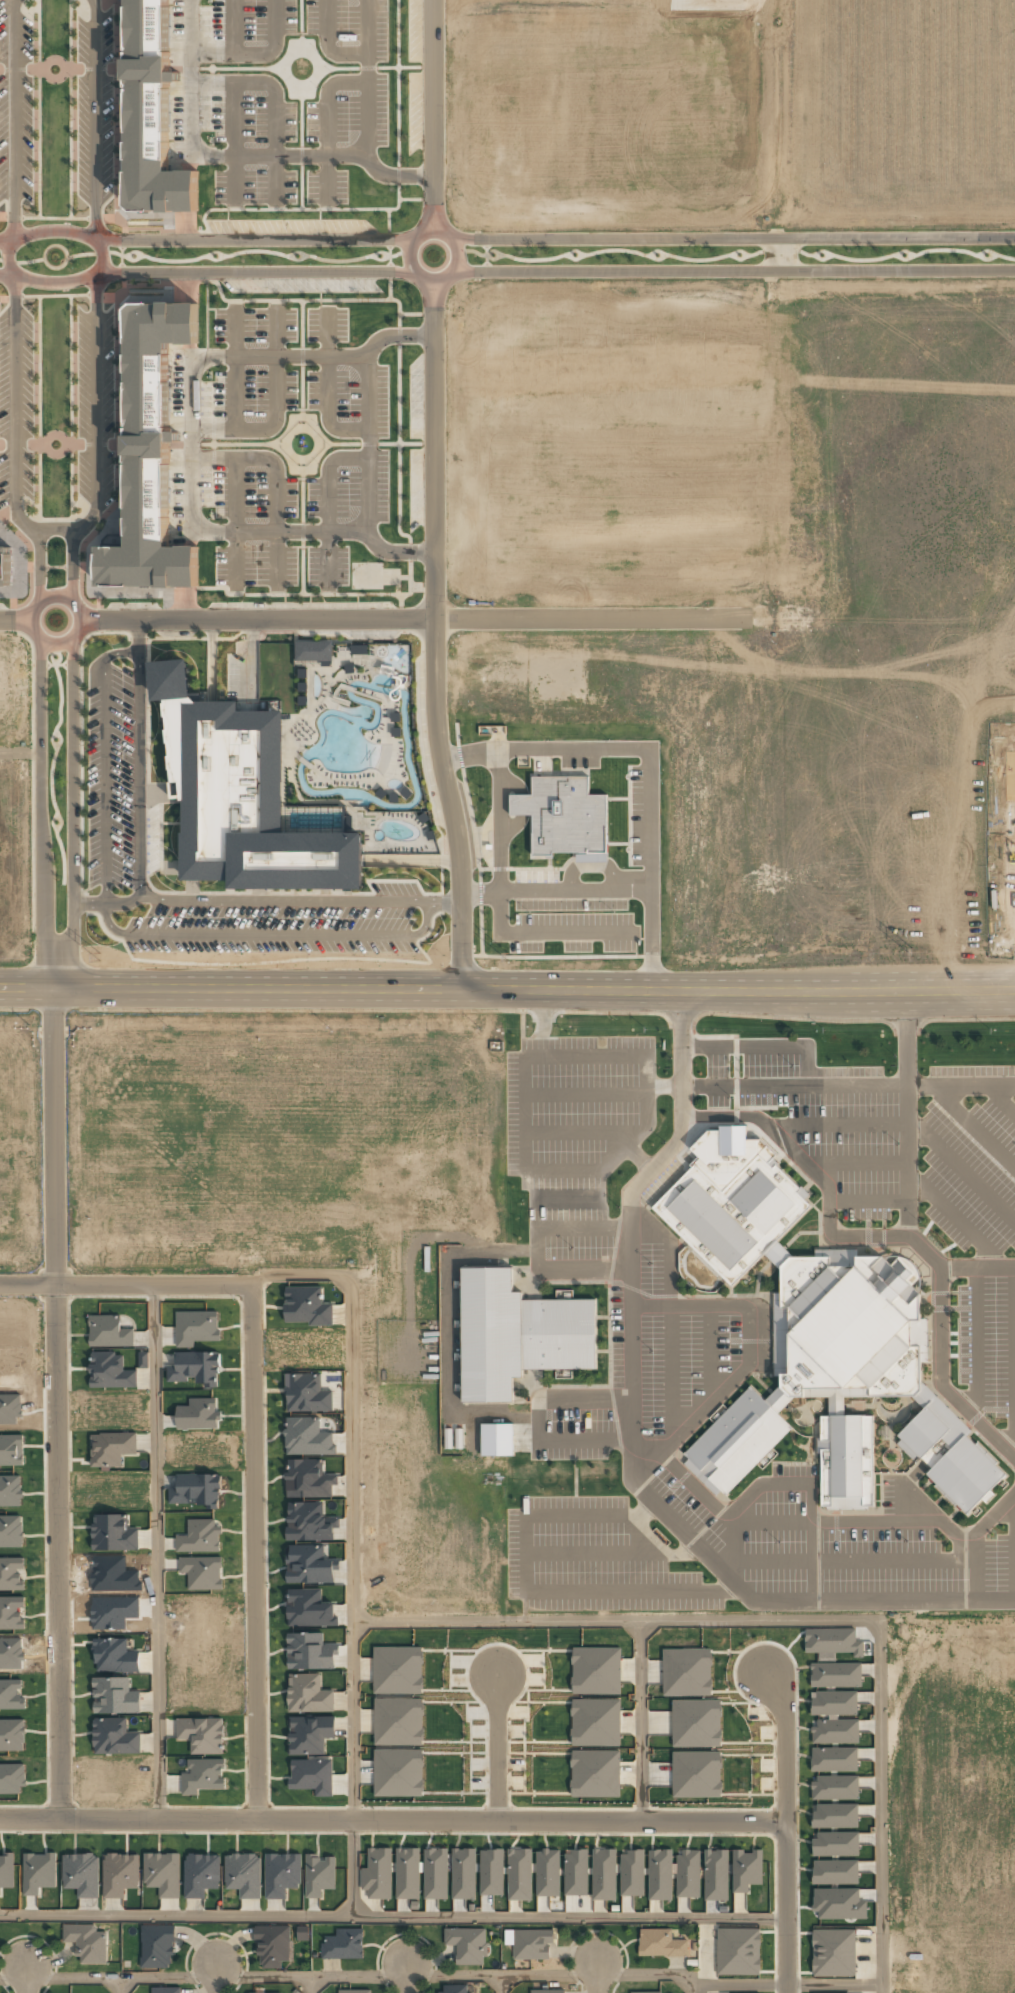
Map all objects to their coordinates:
building: (152, 115)
road: (432, 115)
road: (732, 239)
road: (205, 240)
road: (608, 250)
road: (778, 251)
road: (483, 256)
road: (905, 256)
road: (732, 270)
road: (205, 271)
road: (431, 281)
road: (14, 304)
road: (96, 305)
building: (151, 454)
road: (57, 528)
building: (5, 567)
road: (415, 619)
road: (15, 620)
road: (138, 635)
road: (434, 641)
road: (57, 645)
building: (313, 650)
road: (20, 752)
building: (241, 794)
building: (563, 814)
road: (40, 819)
road: (72, 819)
road: (164, 901)
road: (444, 902)
road: (109, 903)
road: (128, 933)
power tower: (864, 954)
power tower: (439, 957)
power tower: (20, 959)
road: (507, 997)
road: (519, 1033)
road: (680, 1061)
road: (847, 1085)
road: (662, 1086)
road: (584, 1093)
road: (999, 1100)
parking lot: (574, 1107)
road: (907, 1114)
road: (838, 1124)
road: (970, 1128)
road: (581, 1132)
road: (622, 1148)
road: (637, 1159)
road: (858, 1162)
road: (961, 1173)
road: (554, 1200)
road: (868, 1202)
road: (952, 1217)
road: (632, 1224)
road: (535, 1248)
road: (977, 1267)
road: (125, 1282)
road: (668, 1323)
building: (517, 1334)
road: (976, 1343)
building: (821, 1344)
road: (758, 1348)
road: (708, 1355)
building: (143, 1360)
road: (1014, 1363)
building: (195, 1367)
building: (110, 1371)
building: (307, 1393)
road: (56, 1408)
road: (536, 1422)
building: (496, 1439)
building: (111, 1448)
road: (573, 1479)
road: (781, 1484)
building: (197, 1490)
road: (351, 1499)
road: (919, 1504)
road: (796, 1523)
building: (113, 1533)
road: (974, 1538)
road: (650, 1542)
road: (1014, 1547)
road: (156, 1551)
road: (254, 1551)
road: (730, 1551)
road: (592, 1554)
parking lot: (593, 1560)
road: (852, 1561)
road: (812, 1562)
road: (539, 1592)
road: (801, 1620)
building: (831, 1641)
building: (309, 1651)
building: (596, 1670)
building: (686, 1672)
building: (835, 1674)
building: (308, 1694)
building: (114, 1696)
building: (834, 1703)
road: (640, 1720)
building: (696, 1723)
building: (835, 1731)
building: (202, 1734)
building: (310, 1734)
building: (114, 1736)
road: (496, 1747)
building: (833, 1759)
building: (696, 1774)
building: (835, 1787)
building: (834, 1815)
road: (391, 1820)
road: (783, 1830)
building: (836, 1844)
road: (352, 1868)
building: (746, 1870)
building: (834, 1871)
building: (491, 1872)
building: (162, 1873)
building: (377, 1873)
building: (407, 1873)
building: (435, 1873)
building: (631, 1873)
building: (81, 1874)
building: (119, 1874)
building: (200, 1874)
building: (243, 1874)
building: (281, 1874)
building: (463, 1874)
building: (603, 1874)
building: (659, 1874)
building: (687, 1874)
building: (715, 1875)
building: (838, 1903)
road: (391, 1916)
building: (86, 1943)
building: (342, 1943)
building: (531, 1944)
building: (660, 1944)
building: (466, 1945)
building: (157, 1946)
building: (271, 1946)
building: (738, 1951)
building: (833, 1952)
road: (596, 1976)
road: (345, 1977)
road: (407, 1977)
road: (27, 1978)
road: (216, 1979)
road: (690, 1983)
road: (784, 1983)
road: (501, 1984)
road: (120, 1985)
road: (311, 1985)
building: (453, 1989)
building: (167, 1990)
building: (353, 1991)
building: (545, 1991)
building: (648, 1992)

